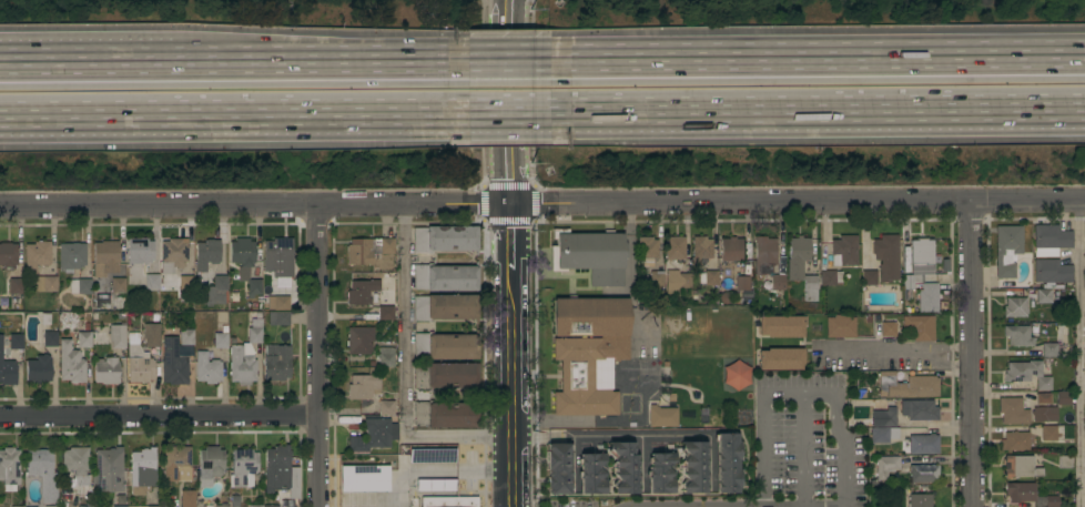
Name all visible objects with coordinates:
road: (509, 17)
road: (821, 45)
road: (519, 48)
road: (326, 50)
road: (85, 53)
road: (510, 79)
road: (517, 118)
road: (823, 118)
road: (236, 119)
road: (511, 164)
road: (542, 204)
building: (445, 239)
building: (1051, 240)
building: (675, 247)
building: (701, 249)
building: (731, 249)
building: (367, 250)
building: (1007, 250)
building: (139, 251)
building: (647, 251)
building: (844, 251)
building: (921, 252)
building: (206, 254)
building: (8, 255)
building: (37, 255)
building: (173, 255)
building: (590, 255)
building: (764, 255)
building: (71, 256)
building: (278, 257)
building: (886, 257)
building: (245, 264)
building: (801, 266)
building: (1052, 272)
building: (108, 276)
building: (445, 277)
building: (708, 277)
building: (830, 277)
building: (869, 277)
building: (657, 278)
building: (910, 281)
building: (151, 282)
building: (677, 282)
building: (187, 283)
building: (778, 283)
building: (42, 284)
building: (16, 286)
building: (80, 286)
building: (743, 287)
building: (214, 291)
building: (362, 292)
building: (102, 293)
building: (1047, 295)
building: (927, 297)
building: (1084, 298)
building: (277, 303)
building: (235, 305)
building: (444, 307)
building: (1015, 307)
building: (195, 308)
building: (386, 313)
building: (199, 316)
building: (282, 318)
building: (781, 326)
building: (840, 326)
building: (920, 327)
building: (888, 329)
building: (152, 335)
building: (1022, 335)
building: (99, 337)
building: (186, 337)
building: (50, 338)
building: (84, 339)
building: (359, 339)
building: (221, 341)
building: (16, 342)
building: (445, 346)
road: (945, 347)
road: (870, 348)
building: (1062, 348)
building: (1049, 349)
building: (588, 353)
building: (132, 354)
road: (970, 354)
road: (1079, 354)
building: (245, 355)
road: (510, 355)
road: (317, 356)
building: (385, 358)
building: (781, 358)
building: (276, 362)
road: (944, 362)
building: (173, 363)
building: (71, 364)
building: (7, 366)
building: (206, 368)
building: (39, 369)
building: (107, 371)
road: (406, 374)
building: (736, 374)
building: (1027, 374)
building: (446, 376)
building: (906, 385)
building: (364, 386)
road: (799, 393)
building: (1062, 397)
building: (1043, 398)
building: (387, 407)
building: (919, 410)
building: (1014, 410)
road: (159, 413)
building: (1044, 414)
building: (444, 415)
building: (662, 416)
building: (884, 417)
building: (1048, 433)
road: (636, 435)
building: (374, 436)
building: (876, 438)
building: (1015, 440)
building: (923, 444)
road: (802, 449)
building: (433, 455)
building: (1064, 462)
building: (210, 463)
building: (728, 463)
building: (77, 464)
building: (178, 464)
building: (886, 466)
building: (243, 467)
building: (625, 467)
building: (1021, 467)
building: (10, 468)
building: (280, 468)
building: (558, 468)
building: (694, 468)
building: (108, 470)
building: (142, 470)
building: (43, 474)
building: (591, 474)
building: (660, 474)
building: (924, 474)
building: (365, 477)
building: (437, 485)
building: (1027, 495)
building: (187, 498)
building: (920, 500)
building: (19, 506)
building: (54, 506)
building: (85, 506)
building: (119, 506)
building: (153, 506)
building: (222, 506)
building: (255, 506)
building: (271, 506)

